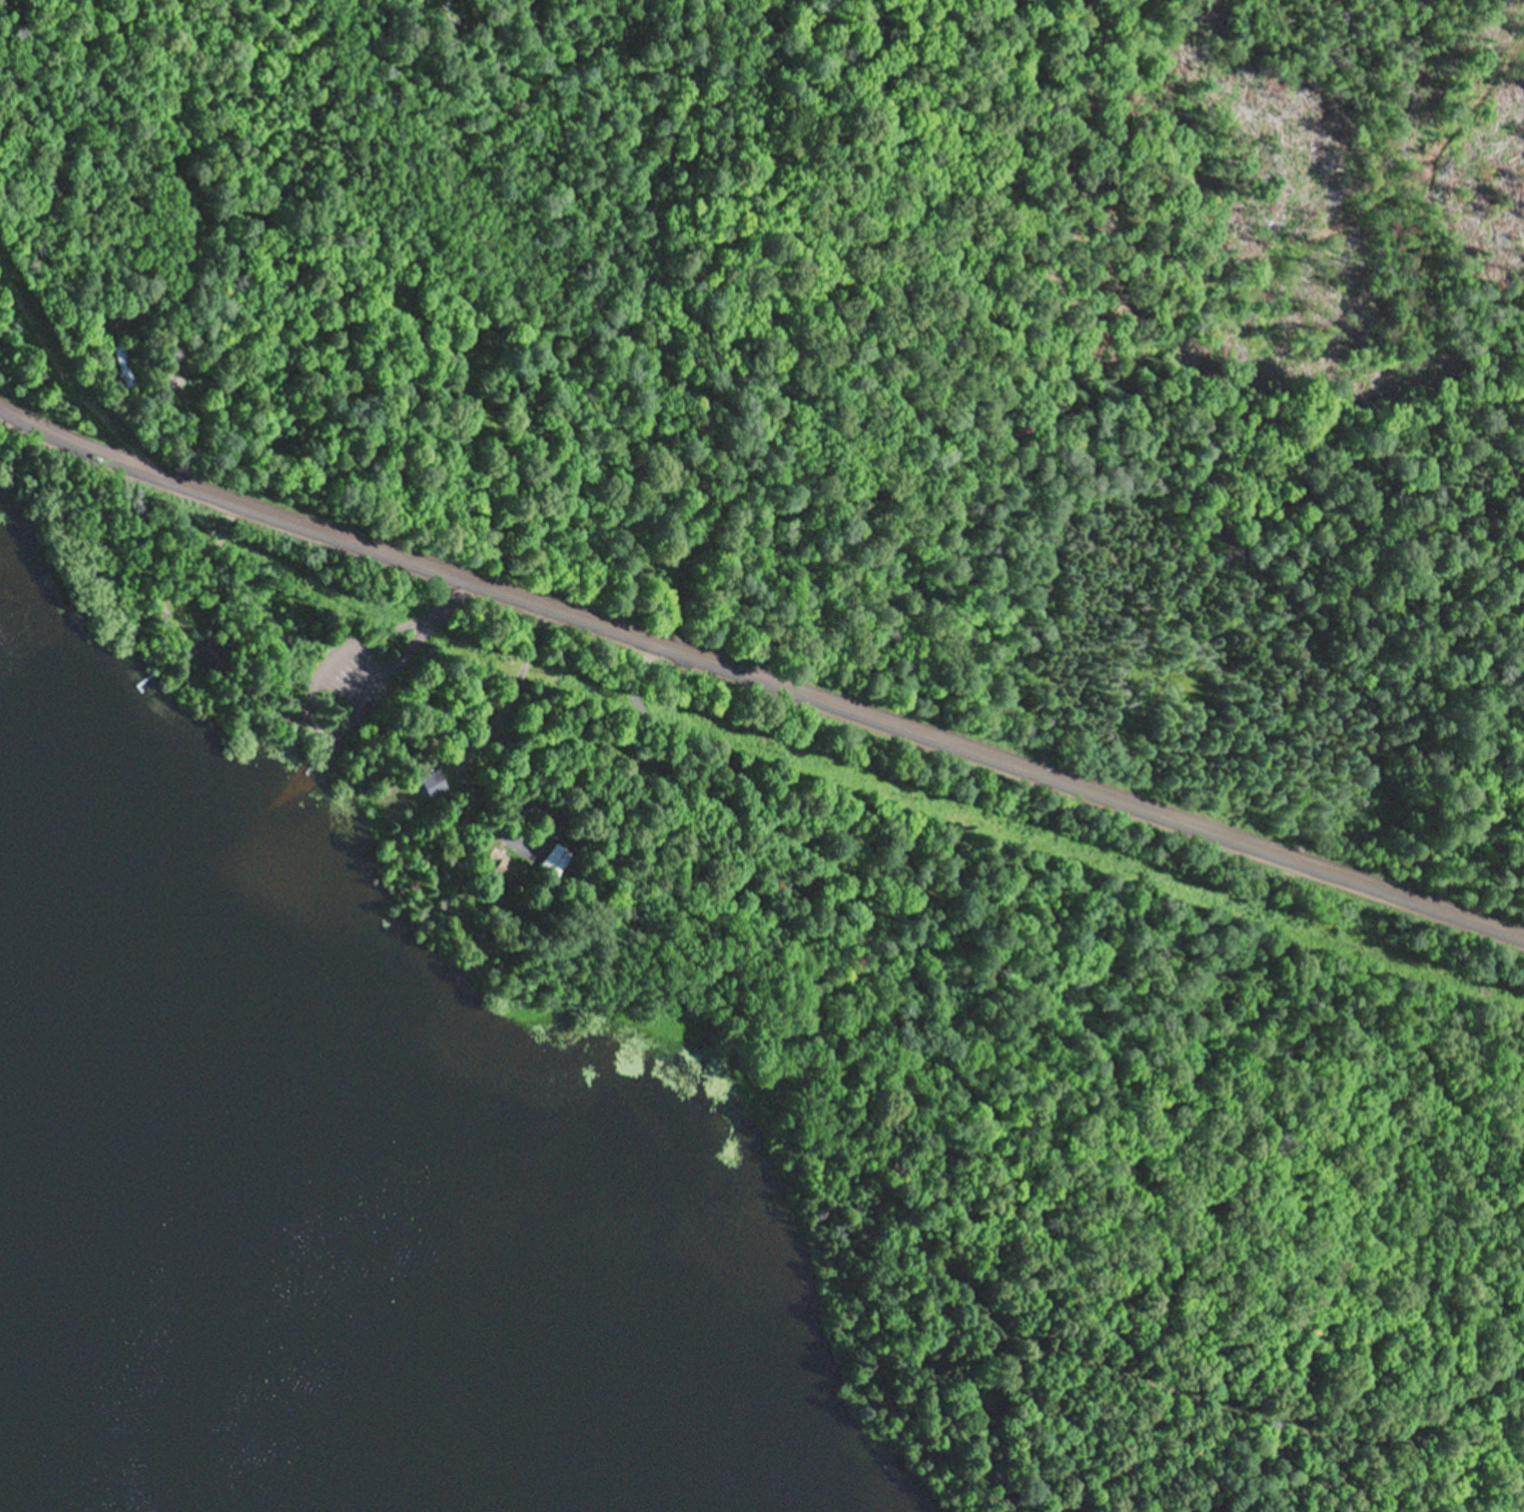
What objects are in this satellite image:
road: (758, 670)
road: (1210, 1335)

